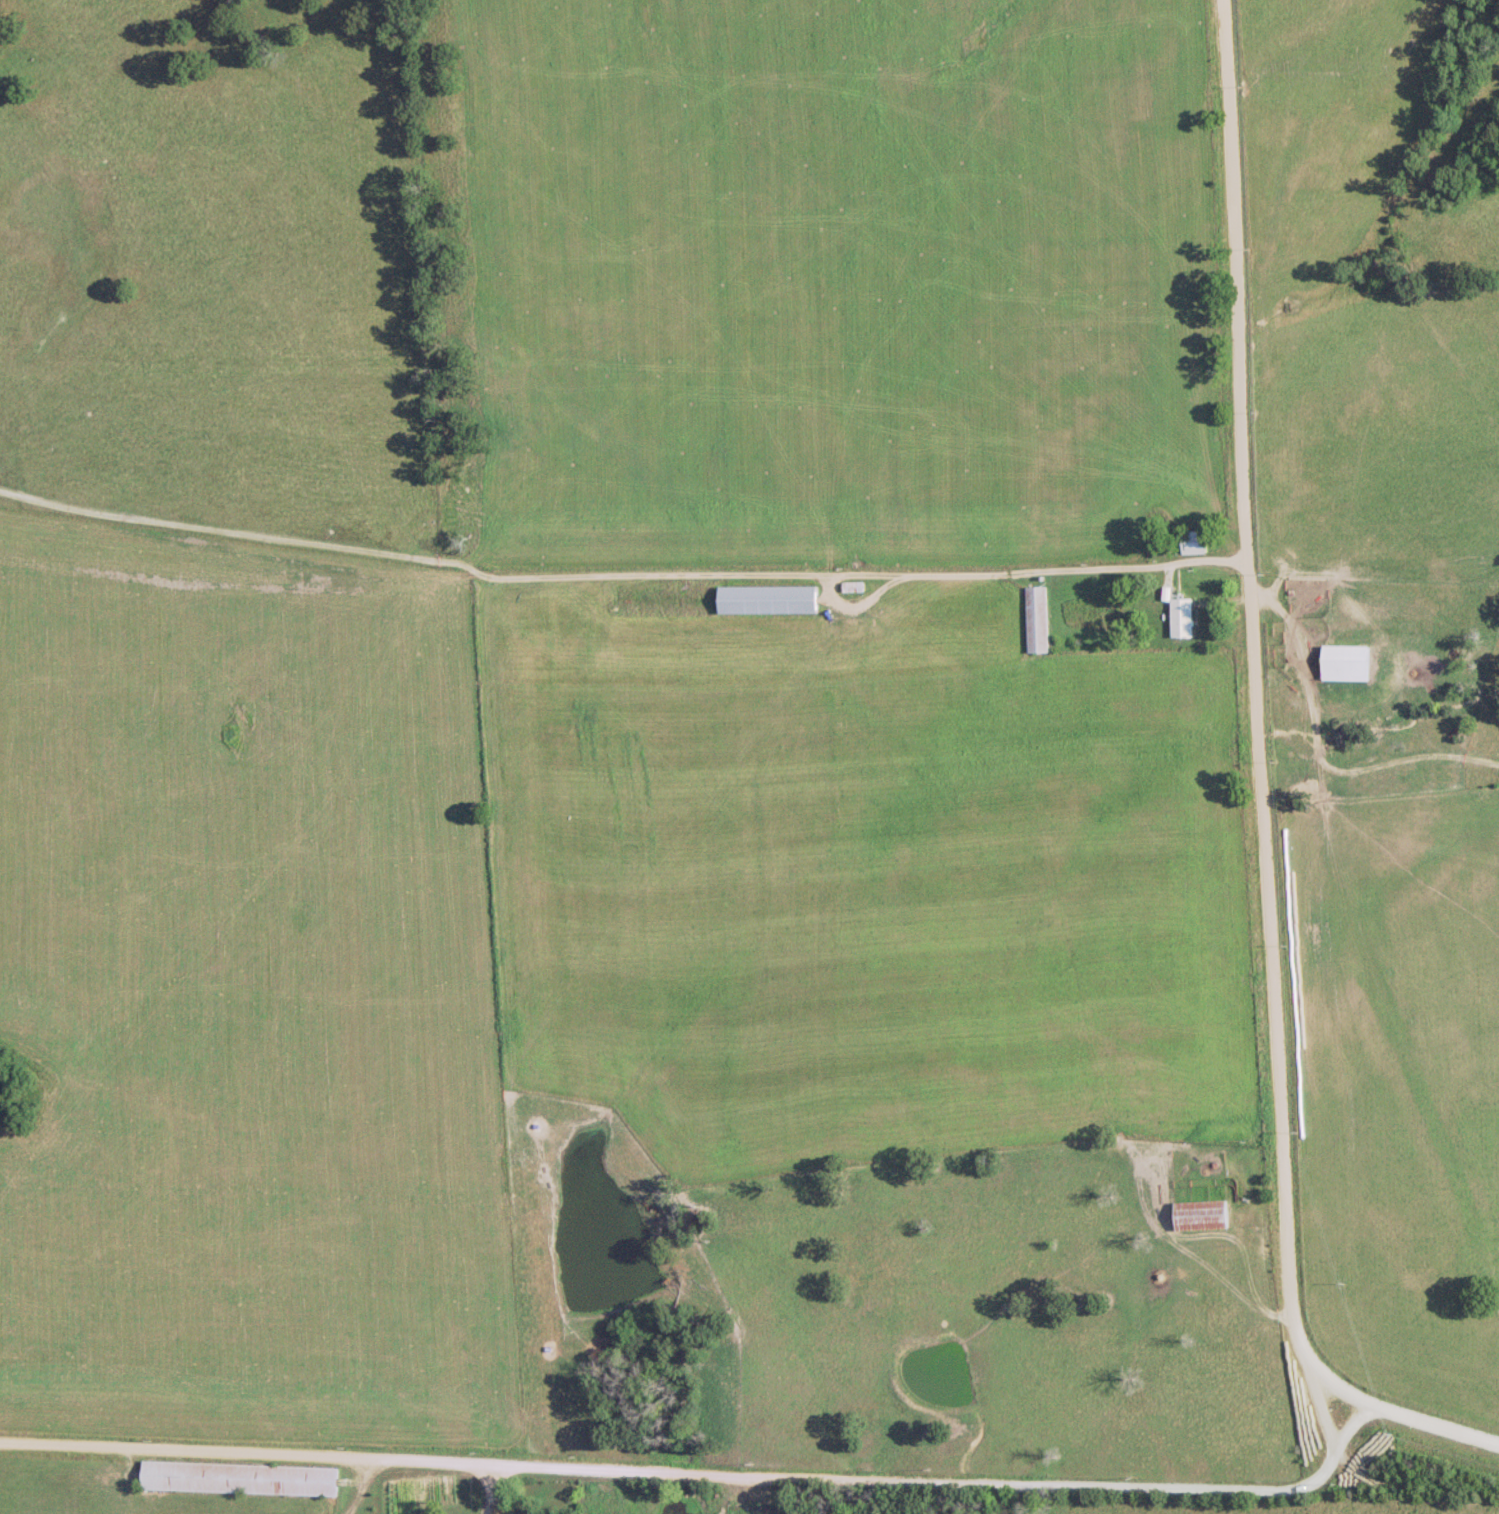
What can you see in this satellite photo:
building: (1191, 541)
road: (992, 570)
building: (852, 586)
building: (767, 600)
building: (1180, 618)
building: (1034, 619)
building: (1343, 662)
road: (1263, 798)
building: (1199, 1214)
building: (237, 1477)
road: (707, 1482)
building: (738, 1508)

